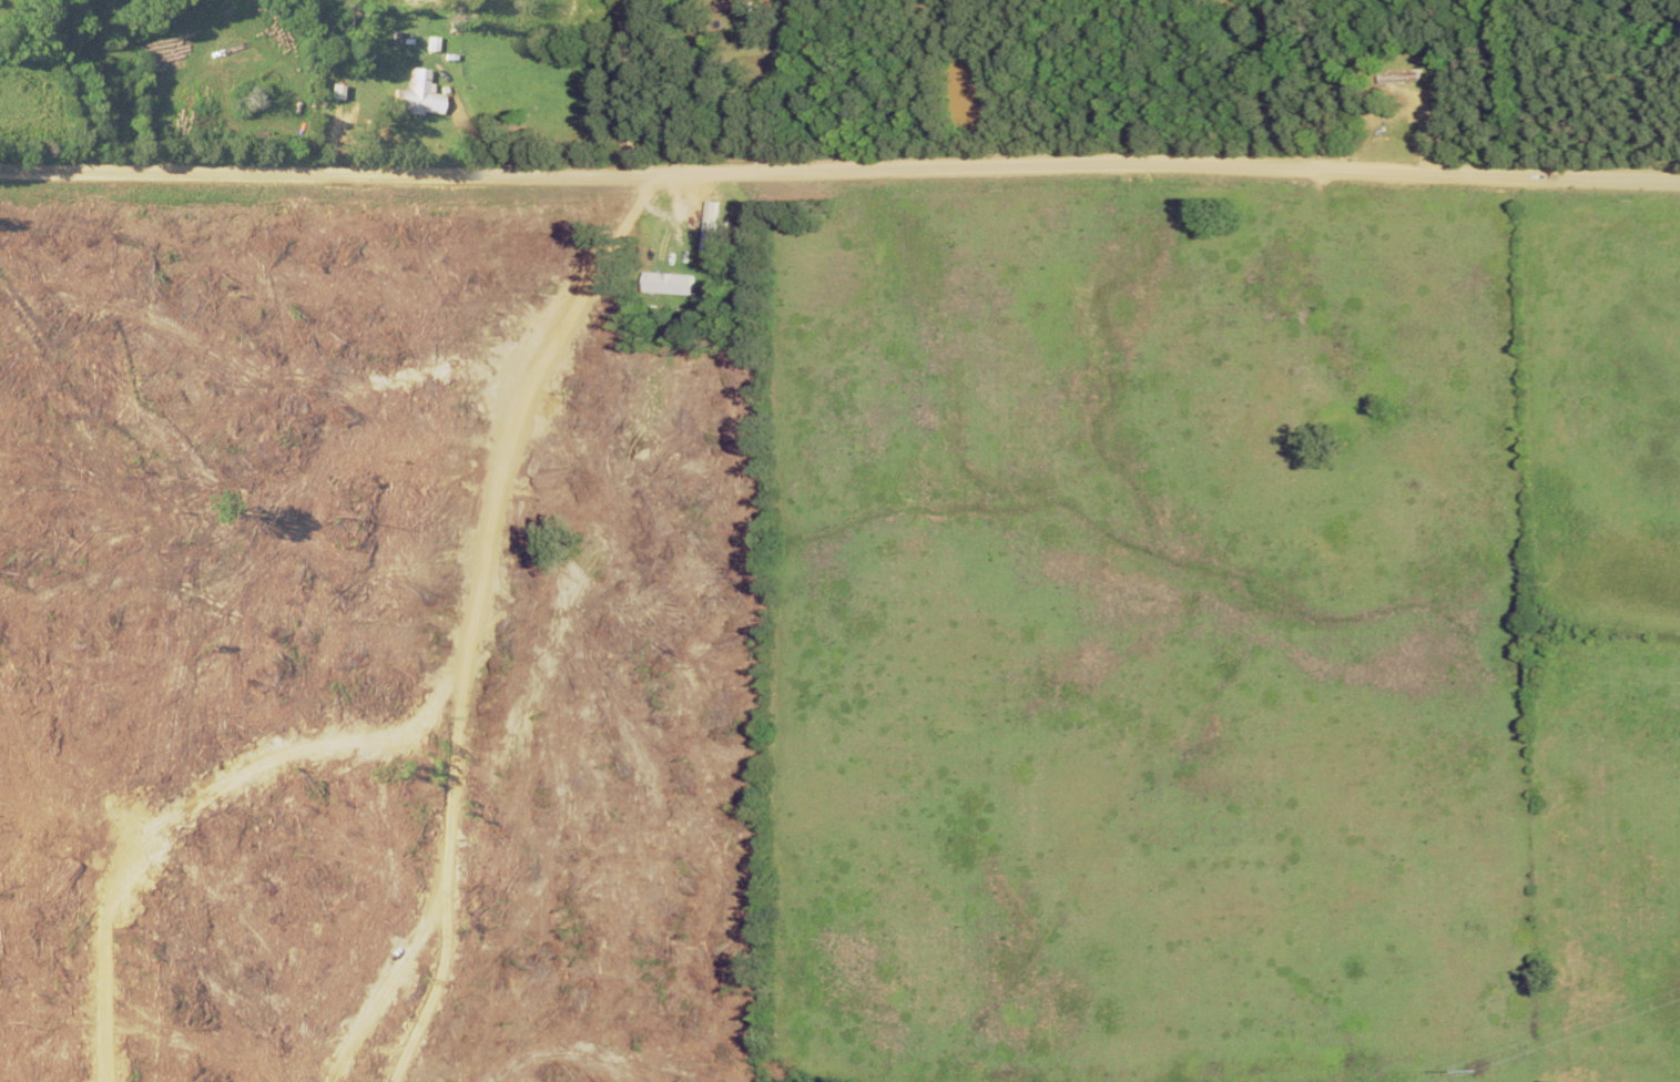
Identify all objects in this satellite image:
building: (1402, 76)
road: (764, 80)
road: (69, 82)
road: (633, 86)
building: (421, 94)
road: (839, 169)
building: (707, 225)
building: (665, 283)
power tower: (1476, 1070)

